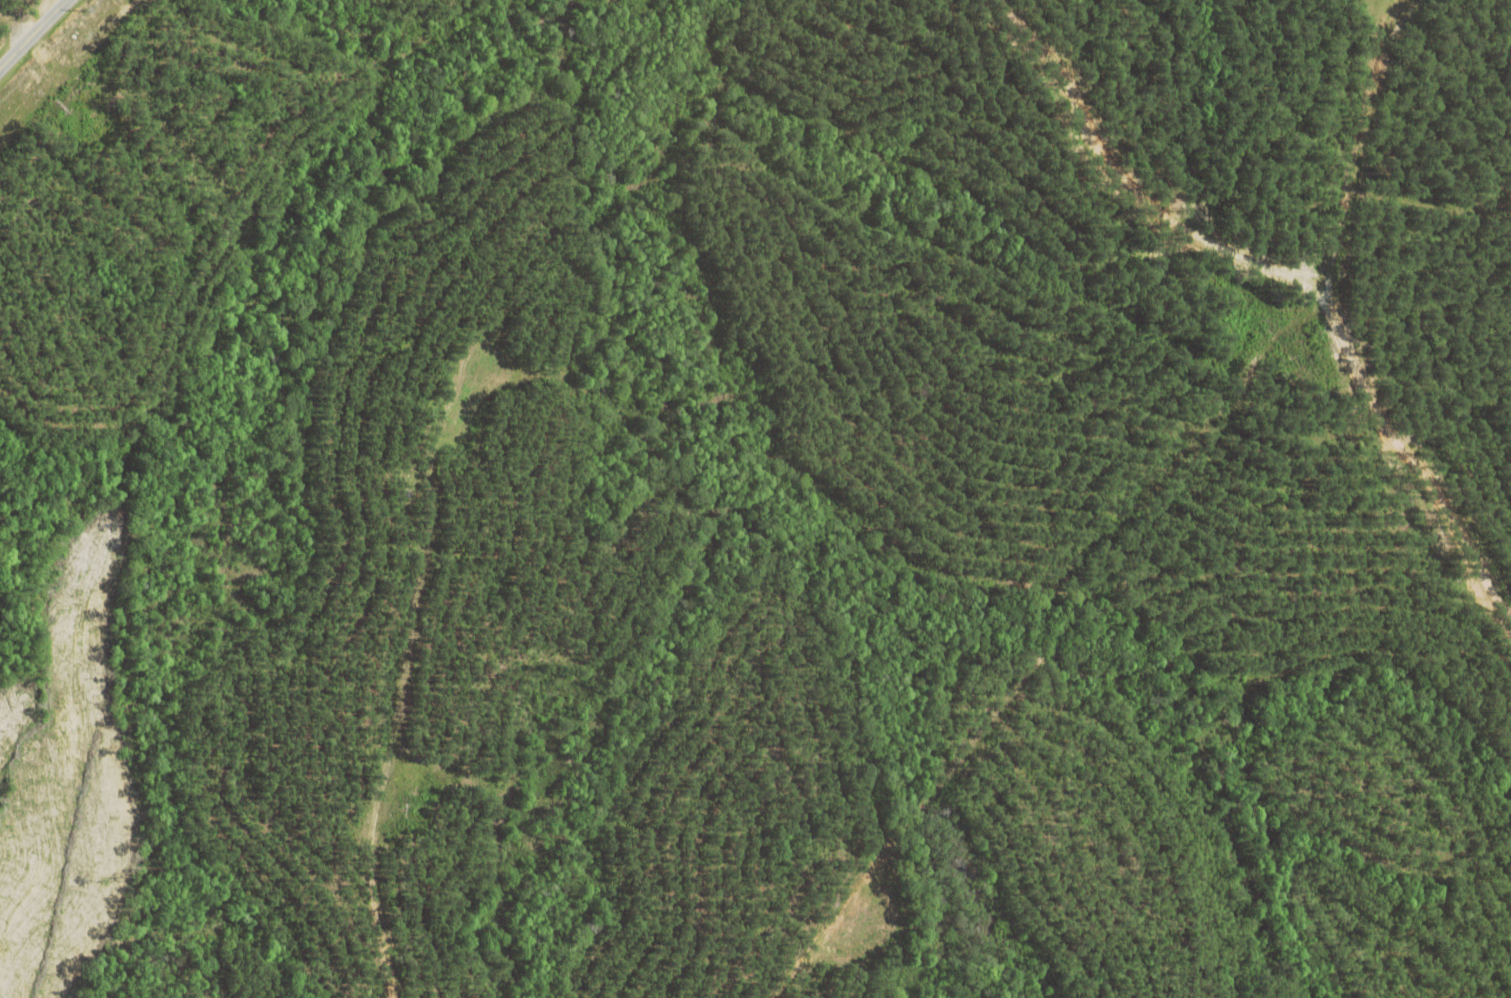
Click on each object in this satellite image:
road: (33, 34)

